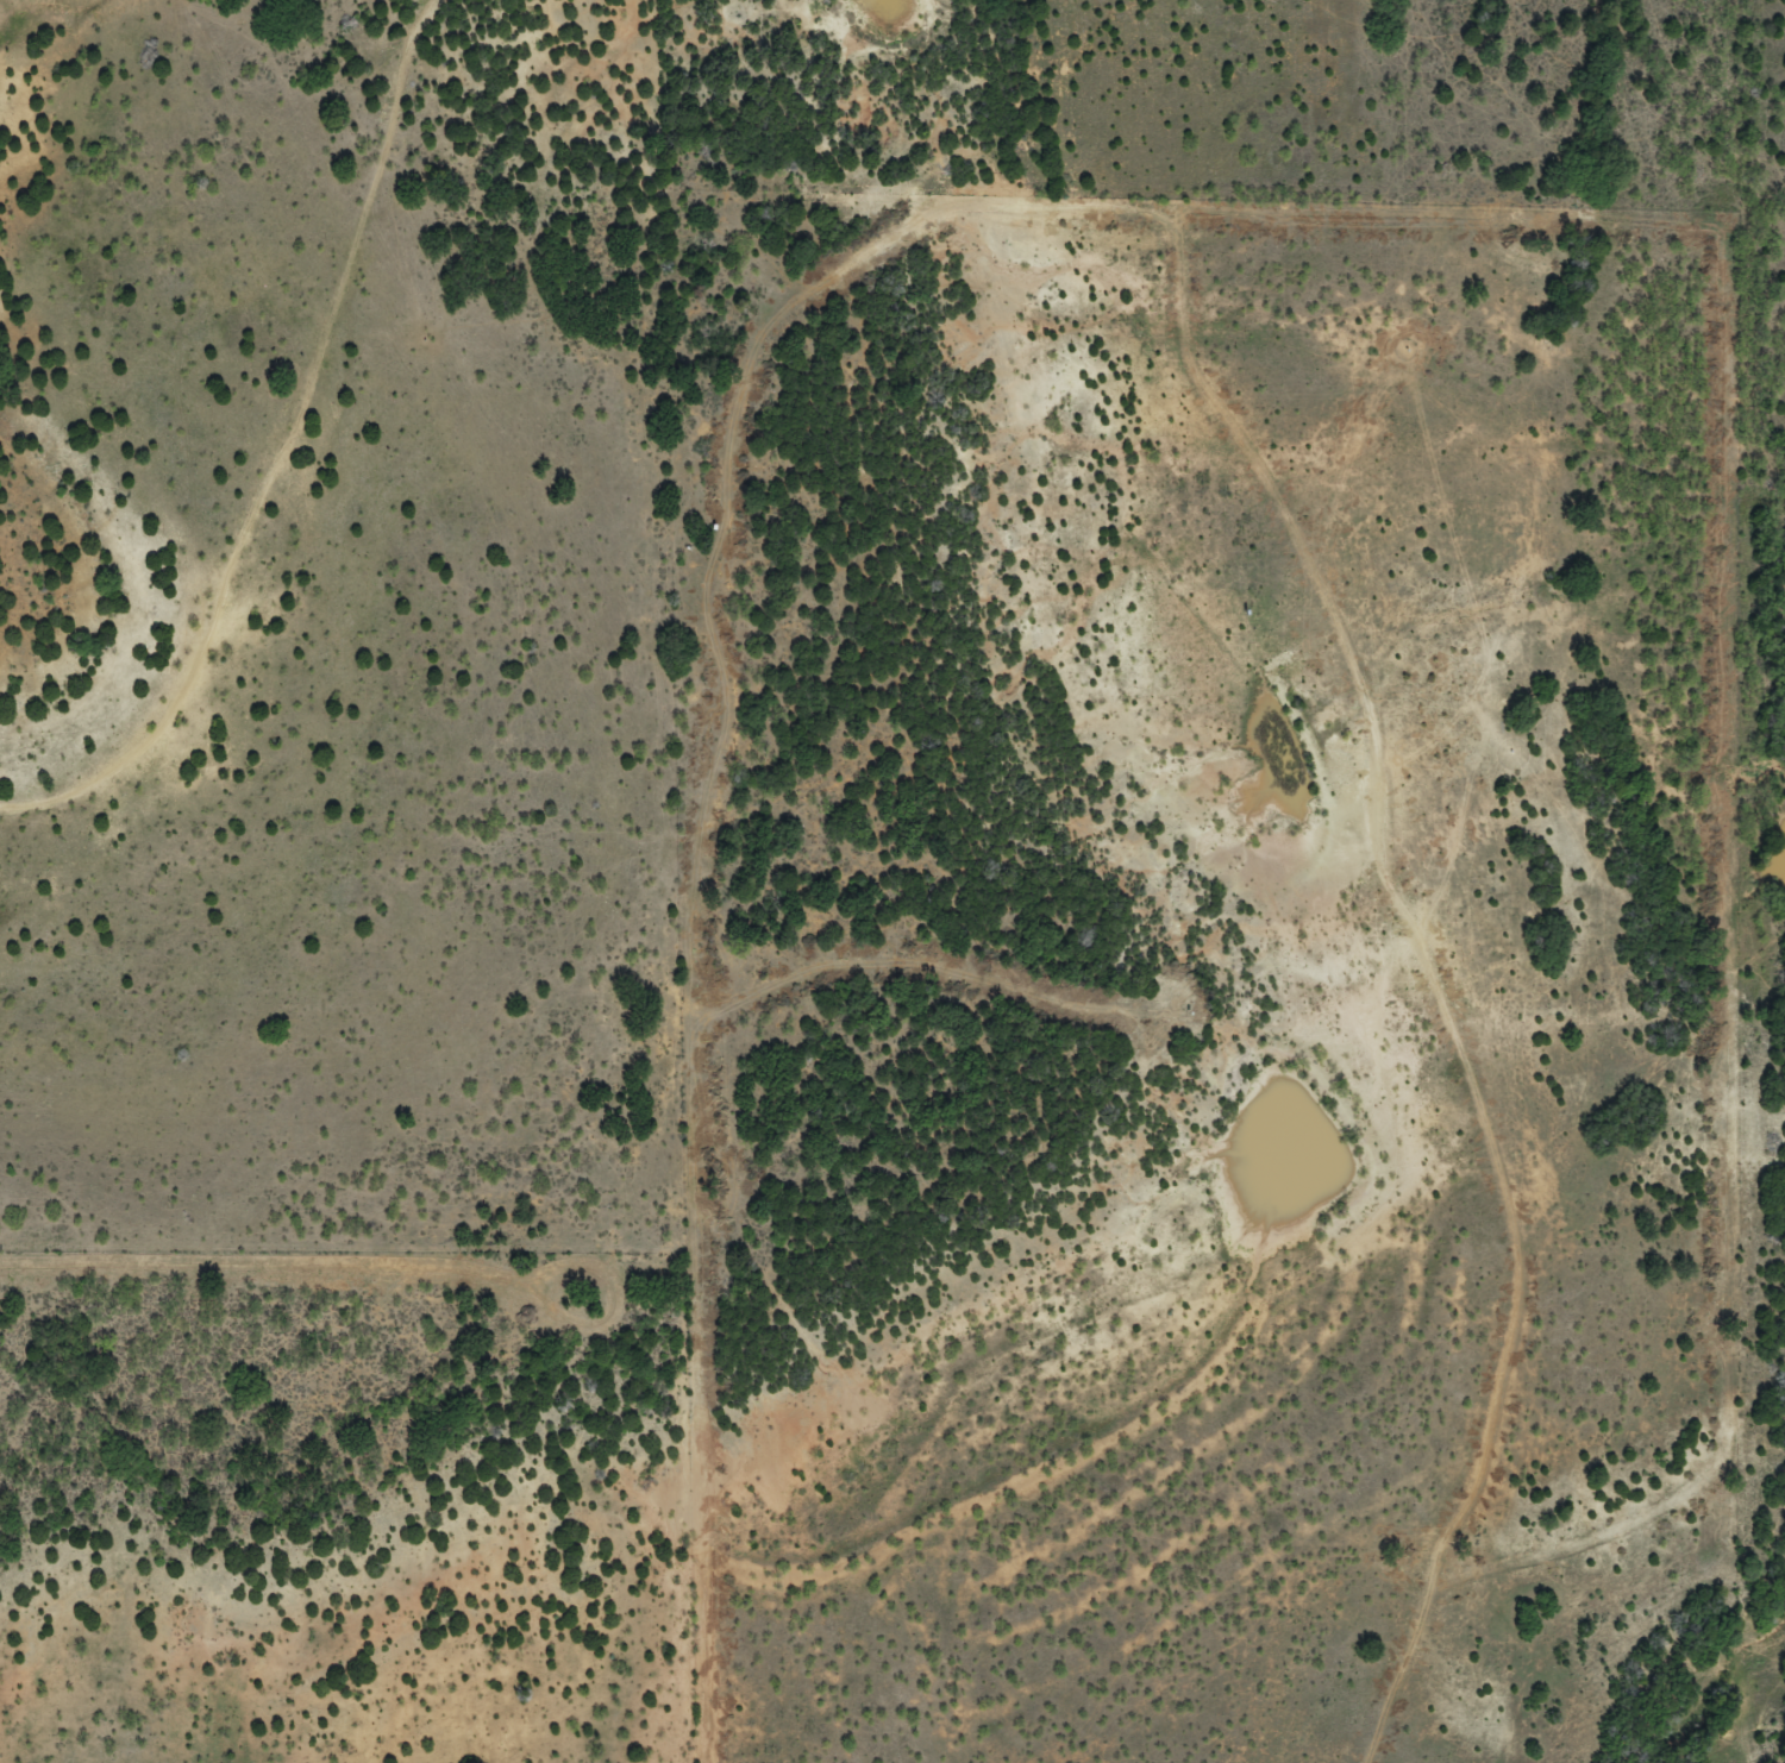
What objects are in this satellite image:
road: (295, 481)
road: (1357, 864)

